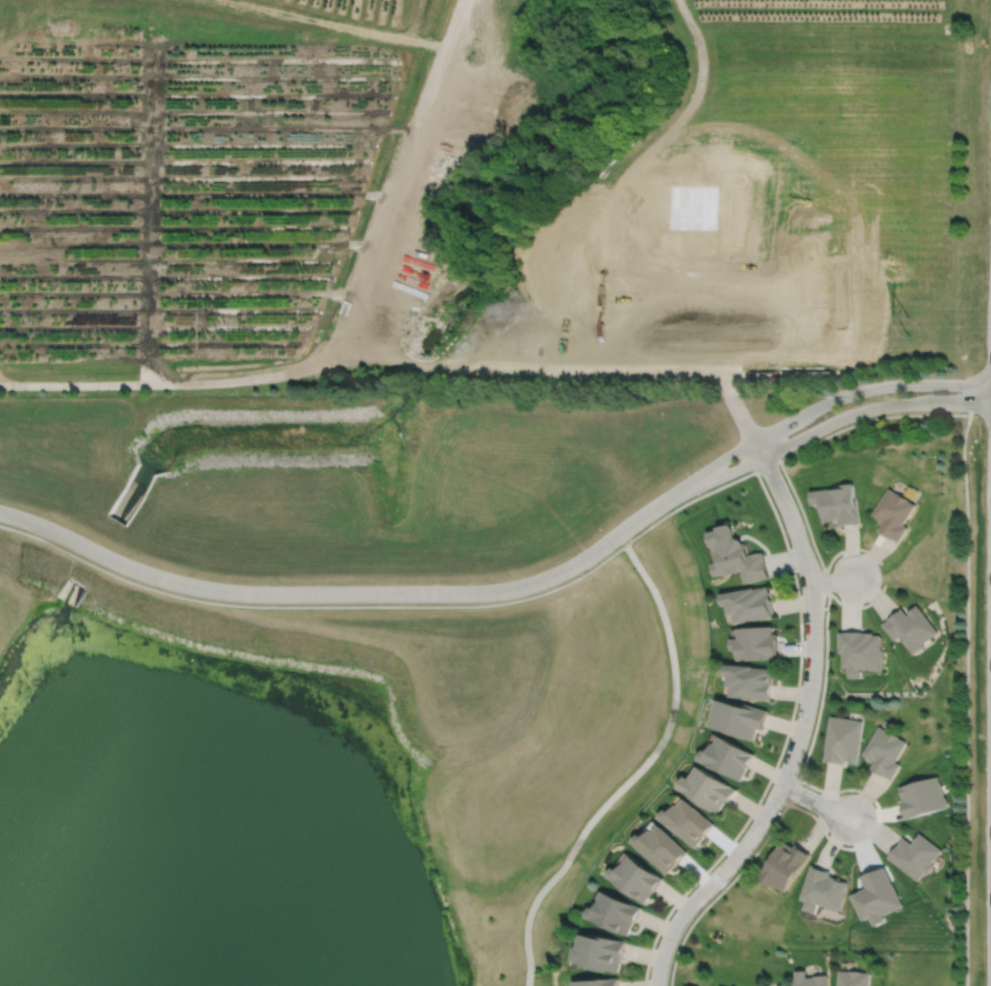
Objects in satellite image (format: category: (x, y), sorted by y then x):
road: (401, 168)
road: (627, 171)
power tower: (914, 330)
power tower: (231, 334)
road: (327, 360)
road: (426, 365)
road: (554, 370)
road: (662, 372)
road: (788, 373)
road: (147, 383)
road: (821, 405)
road: (736, 406)
road: (826, 425)
road: (790, 455)
building: (837, 506)
building: (893, 515)
building: (736, 556)
road: (882, 572)
road: (832, 581)
road: (342, 594)
building: (748, 602)
road: (313, 606)
road: (811, 610)
dam: (262, 619)
building: (909, 626)
building: (755, 641)
building: (859, 650)
building: (749, 680)
road: (967, 699)
building: (737, 717)
road: (811, 739)
building: (842, 739)
road: (783, 745)
building: (884, 751)
building: (726, 756)
park: (323, 772)
road: (636, 772)
building: (707, 788)
building: (921, 797)
road: (815, 802)
building: (686, 821)
road: (876, 831)
building: (660, 848)
building: (914, 855)
building: (783, 865)
building: (635, 878)
road: (711, 882)
building: (822, 889)
building: (876, 896)
building: (616, 913)
building: (600, 953)
building: (853, 978)
building: (809, 979)
building: (599, 982)
building: (782, 985)

